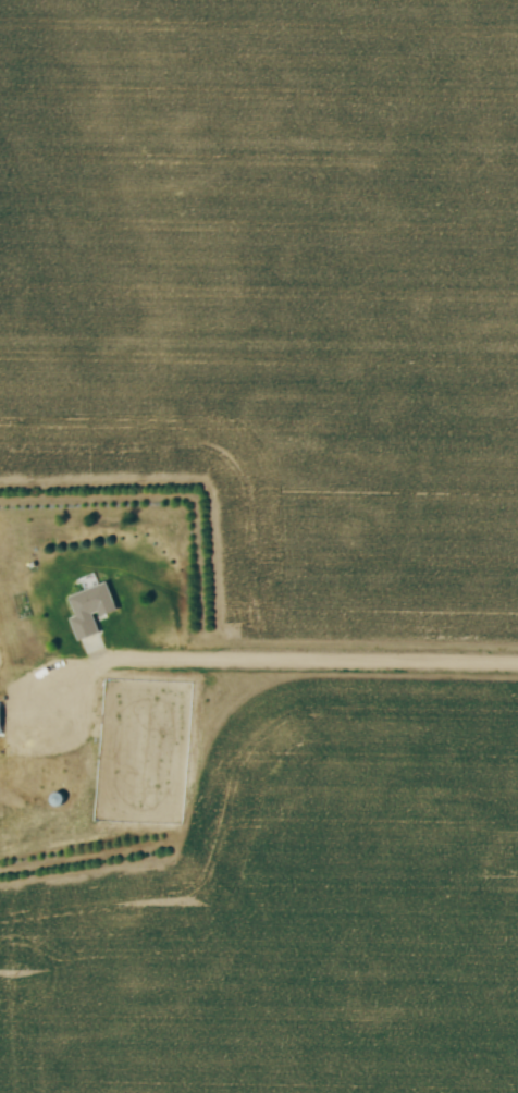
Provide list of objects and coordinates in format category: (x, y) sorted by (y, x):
building: (86, 610)
road: (260, 659)

